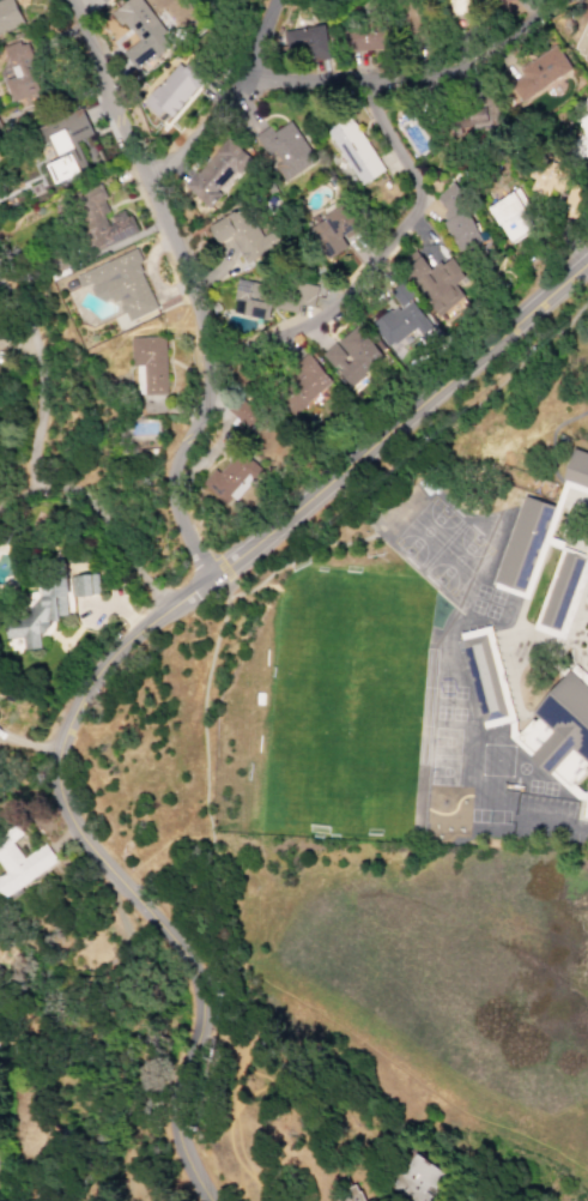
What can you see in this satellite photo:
building: (102, 1)
building: (7, 17)
building: (139, 32)
building: (360, 38)
building: (305, 41)
building: (538, 74)
road: (416, 76)
building: (172, 89)
road: (224, 99)
building: (580, 129)
building: (65, 146)
building: (283, 149)
building: (352, 151)
building: (214, 173)
building: (545, 181)
building: (454, 216)
building: (510, 216)
building: (98, 218)
building: (329, 229)
building: (242, 234)
road: (375, 257)
building: (434, 283)
road: (187, 284)
building: (119, 285)
building: (250, 298)
building: (296, 298)
building: (398, 321)
building: (350, 356)
building: (147, 364)
building: (298, 386)
road: (35, 387)
building: (243, 411)
road: (378, 435)
building: (576, 471)
building: (558, 496)
building: (393, 509)
road: (102, 514)
building: (552, 543)
building: (523, 547)
building: (586, 550)
road: (229, 575)
building: (85, 585)
building: (559, 593)
building: (36, 616)
building: (553, 656)
road: (206, 675)
building: (484, 676)
park: (344, 704)
building: (510, 729)
building: (558, 730)
road: (23, 743)
building: (574, 792)
building: (584, 803)
road: (551, 823)
building: (18, 862)
road: (115, 888)
park: (410, 984)
building: (414, 1181)
building: (347, 1195)

